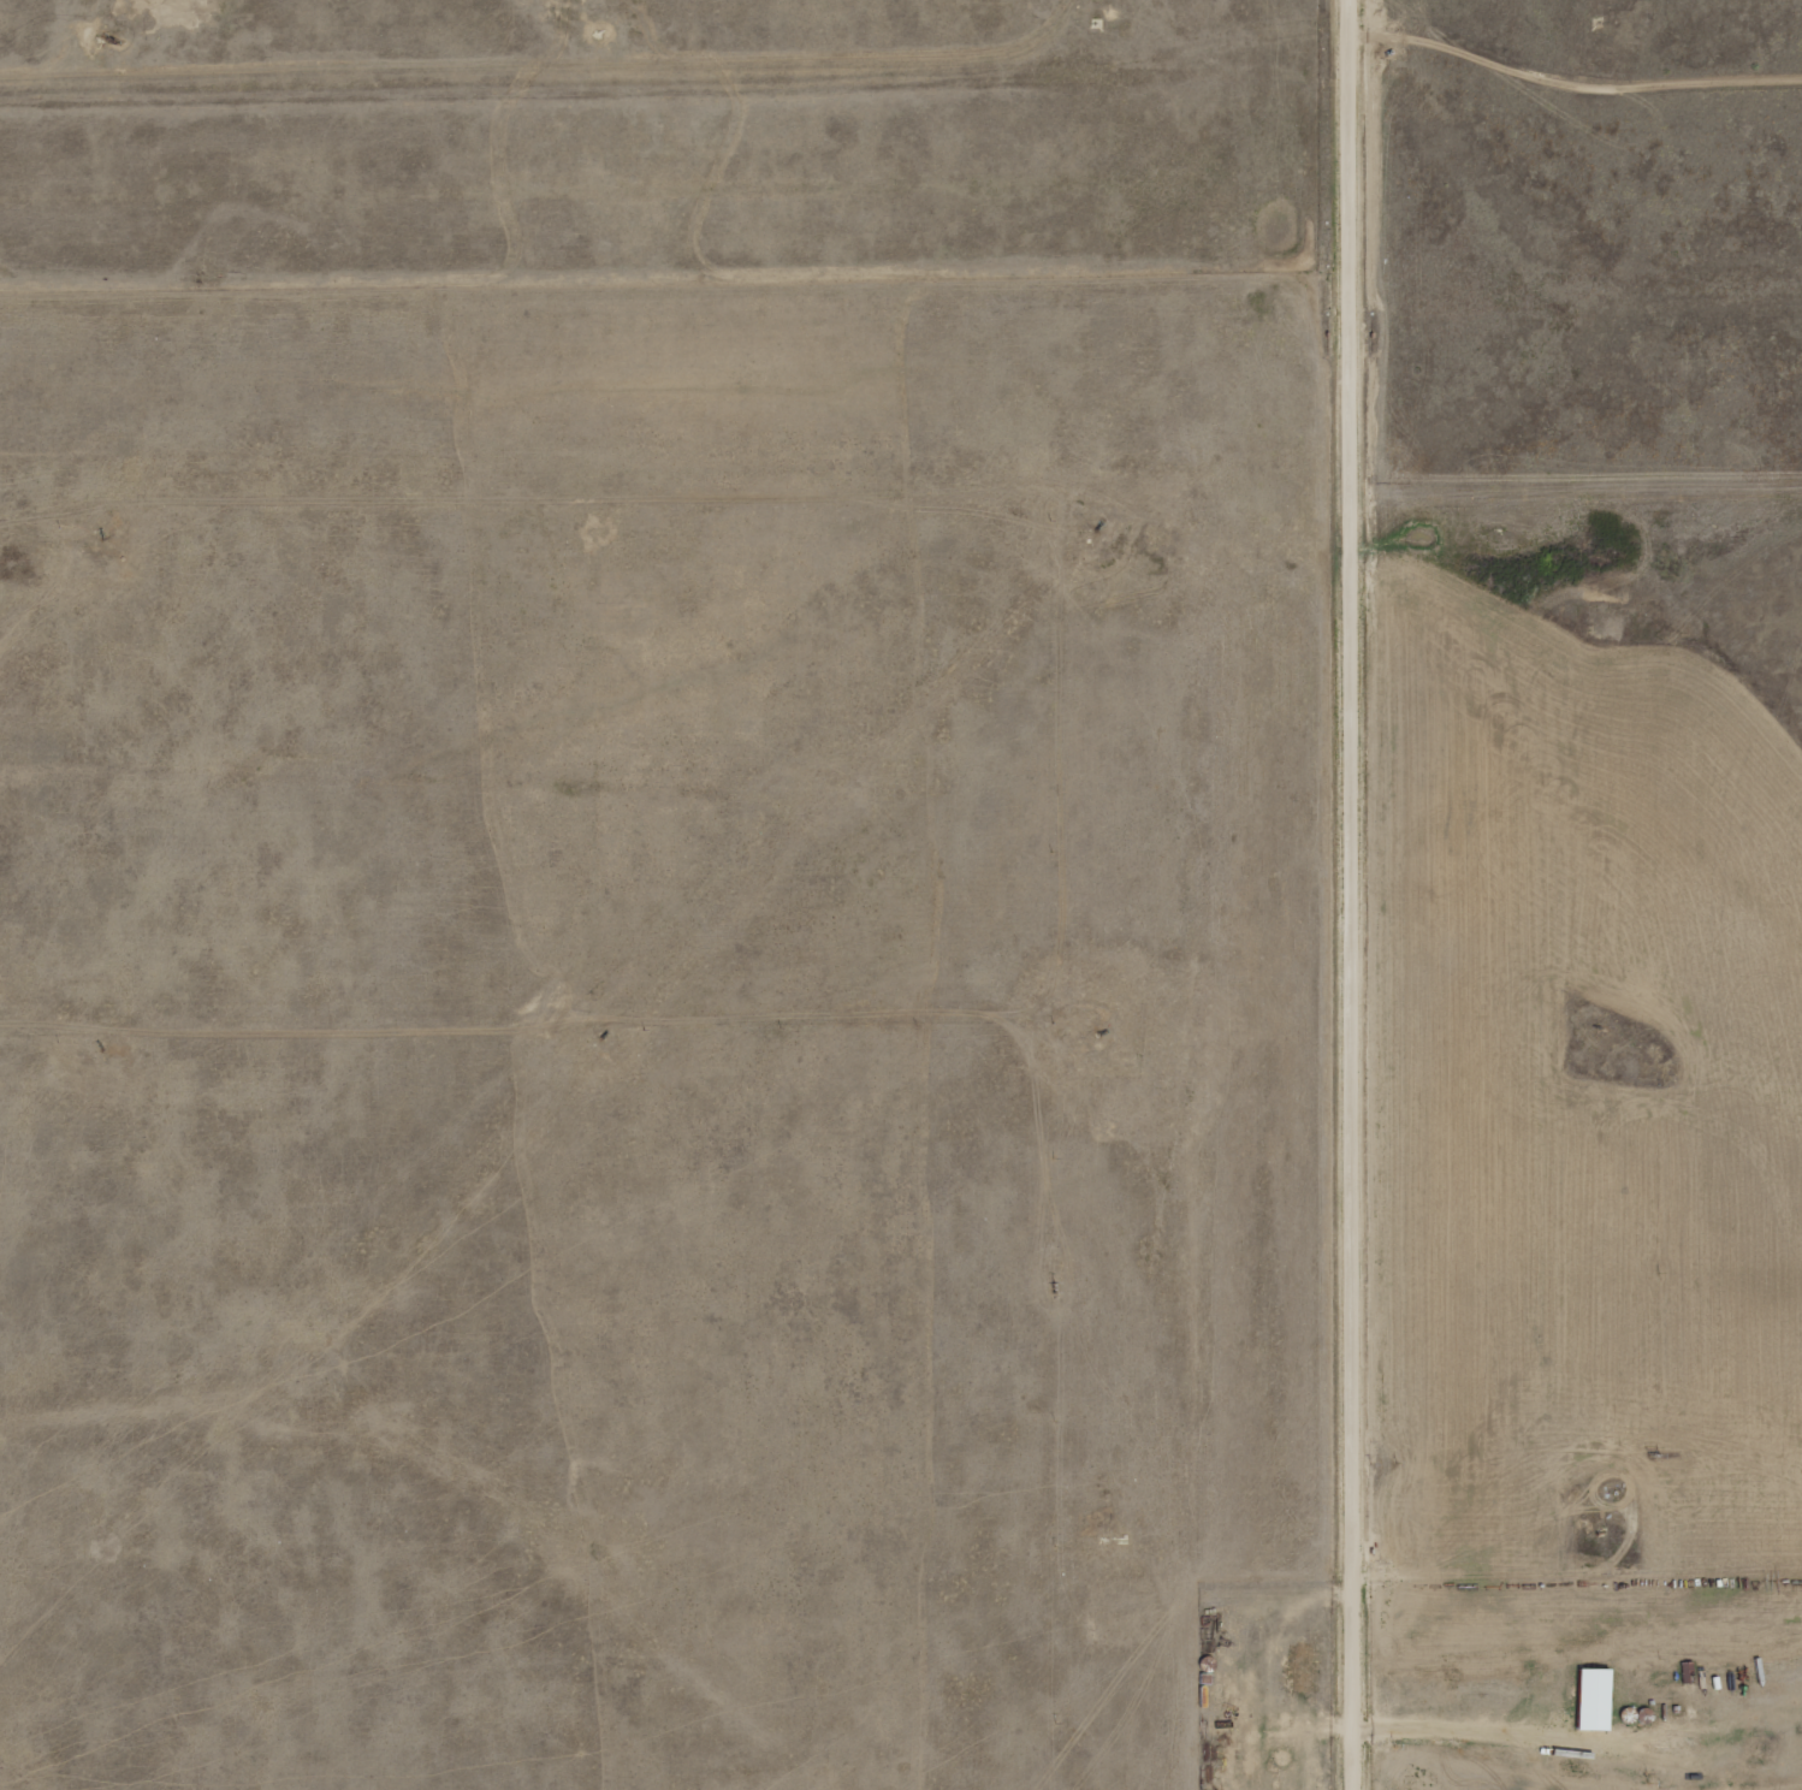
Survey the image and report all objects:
road: (1358, 895)
building: (1594, 1699)
road: (1460, 1705)

